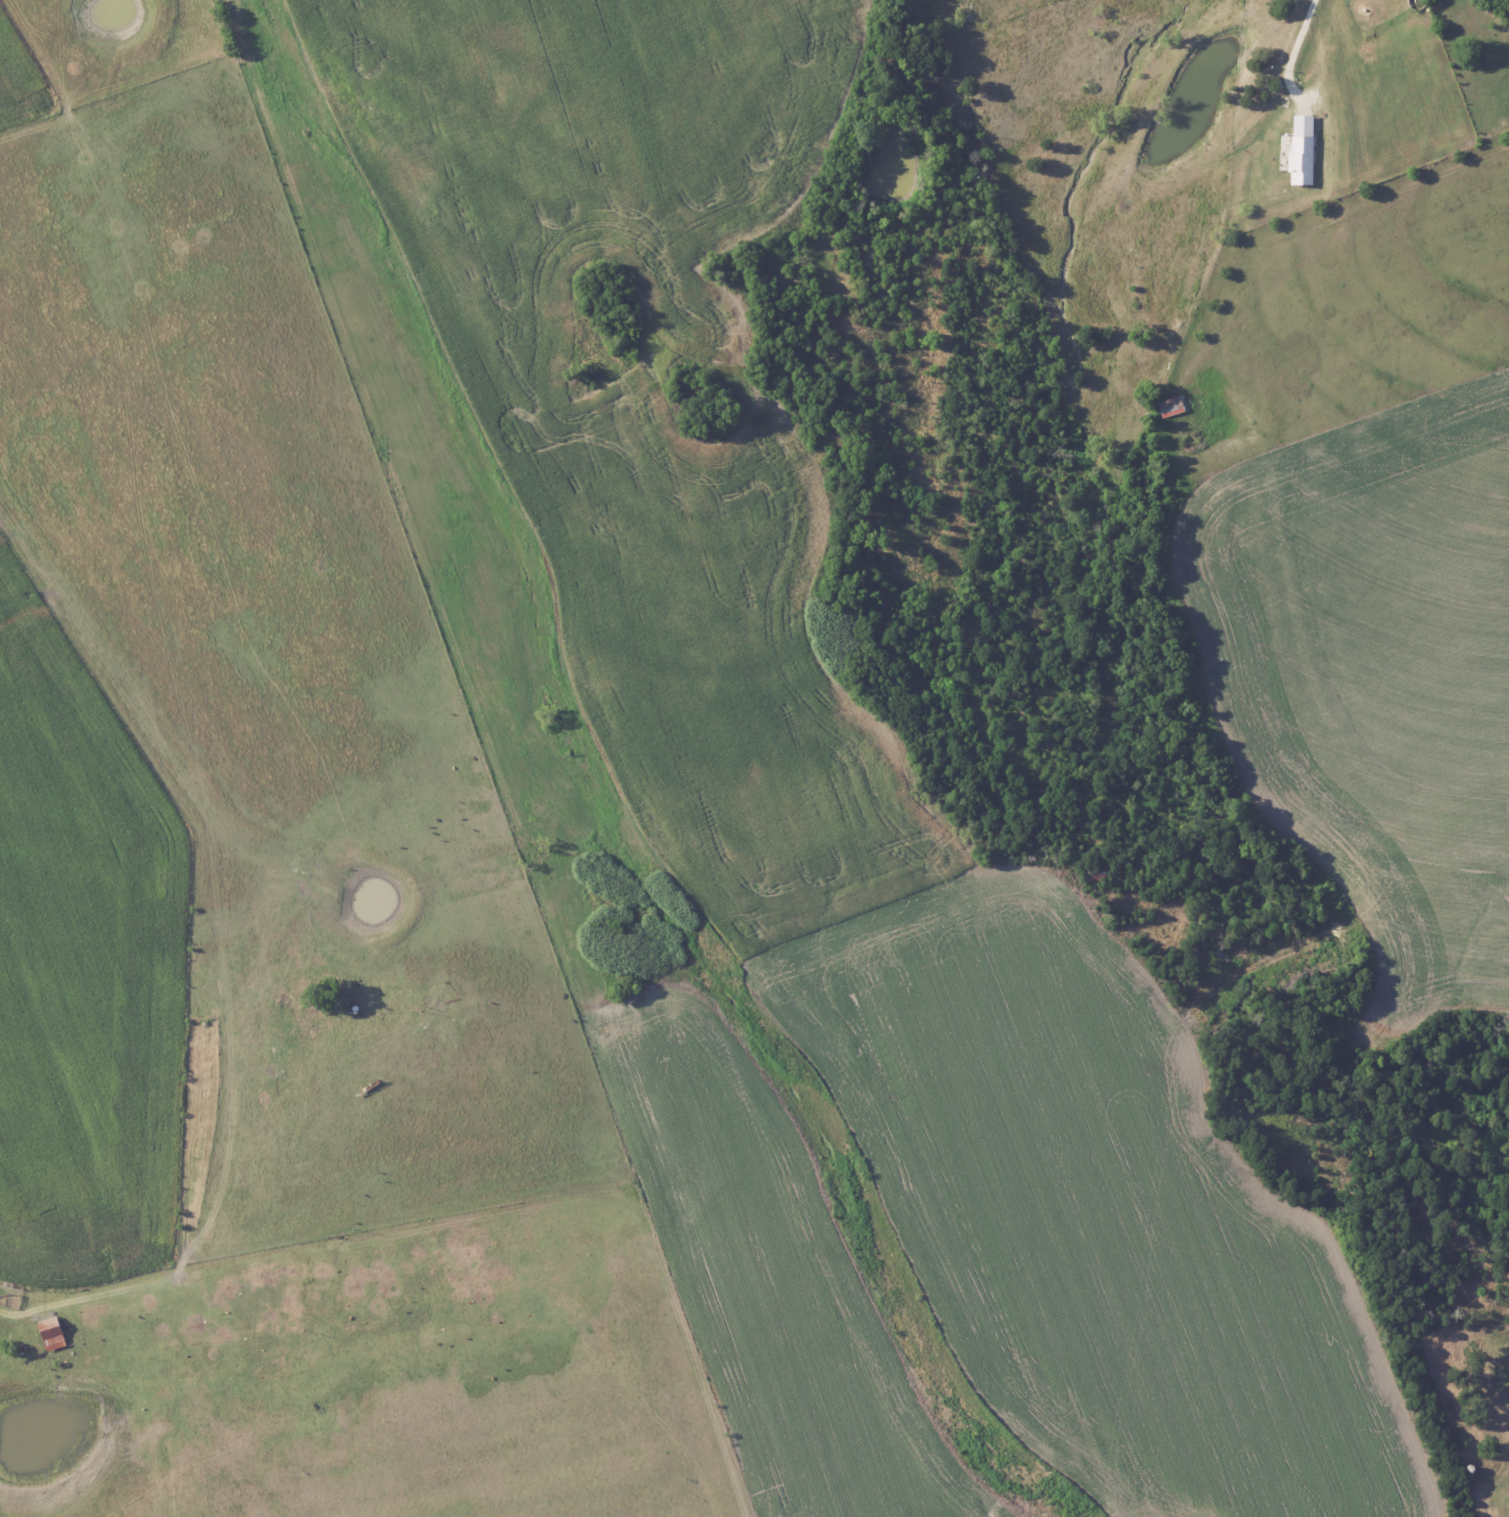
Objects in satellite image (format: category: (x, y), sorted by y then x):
building: (1299, 150)
building: (1170, 408)

